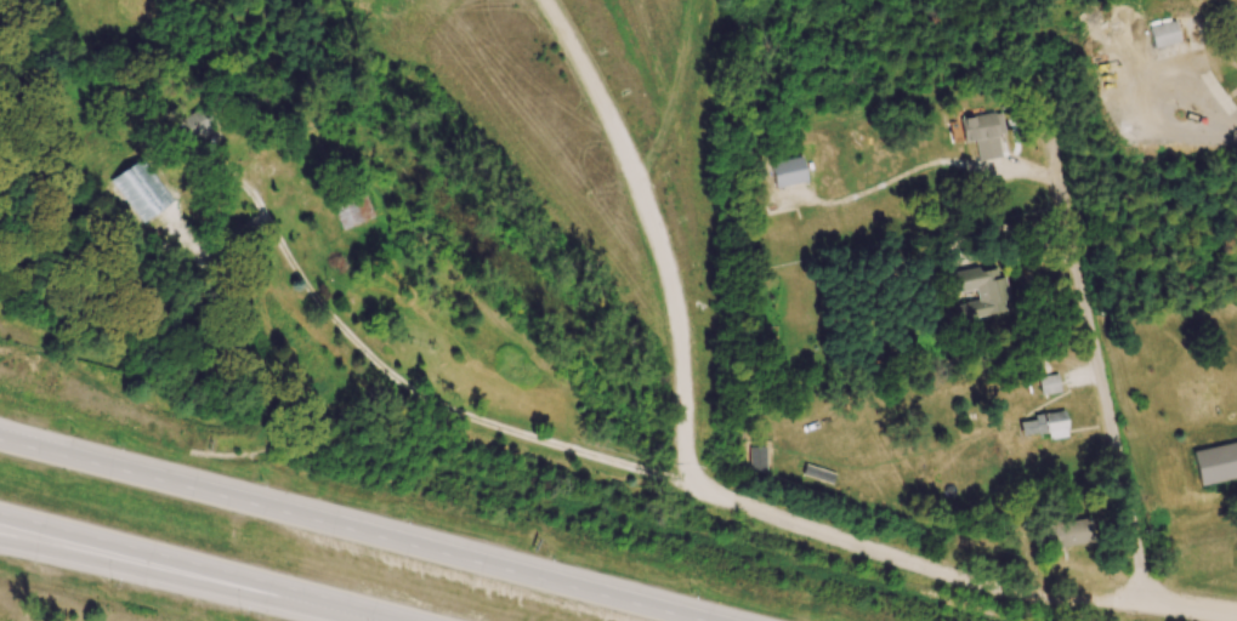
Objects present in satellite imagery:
building: (1164, 34)
building: (983, 133)
building: (787, 171)
building: (352, 209)
road: (1021, 229)
building: (978, 291)
road: (1103, 377)
building: (1048, 383)
road: (409, 386)
building: (1046, 425)
street lamp: (113, 443)
building: (1216, 465)
street lamp: (260, 482)
street lamp: (402, 518)
road: (352, 530)
building: (1066, 532)
street lamp: (538, 554)
road: (208, 566)
road: (941, 566)
road: (193, 580)
street lamp: (110, 586)
street lamp: (690, 592)
street lamp: (240, 613)

